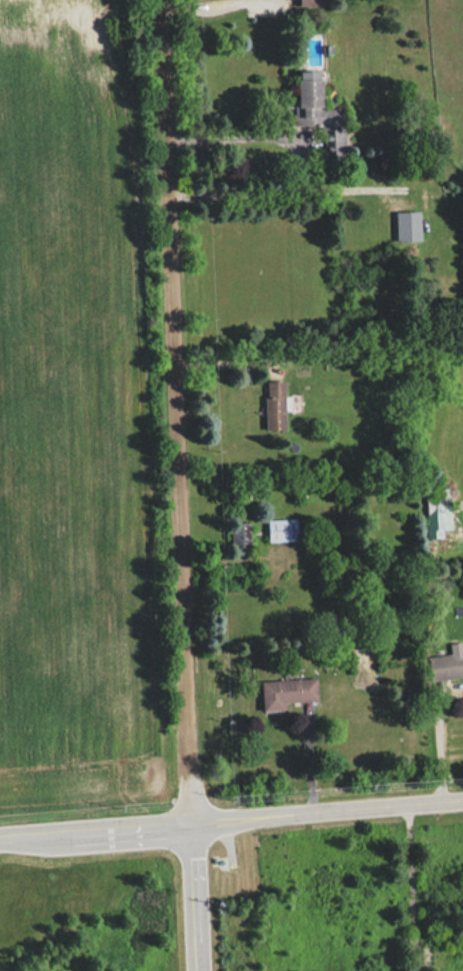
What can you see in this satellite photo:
building: (310, 2)
road: (195, 7)
building: (315, 106)
road: (272, 188)
building: (407, 225)
building: (274, 404)
road: (178, 412)
building: (437, 501)
building: (281, 528)
building: (239, 533)
building: (445, 664)
building: (287, 692)
road: (431, 749)
road: (231, 819)
road: (195, 897)

